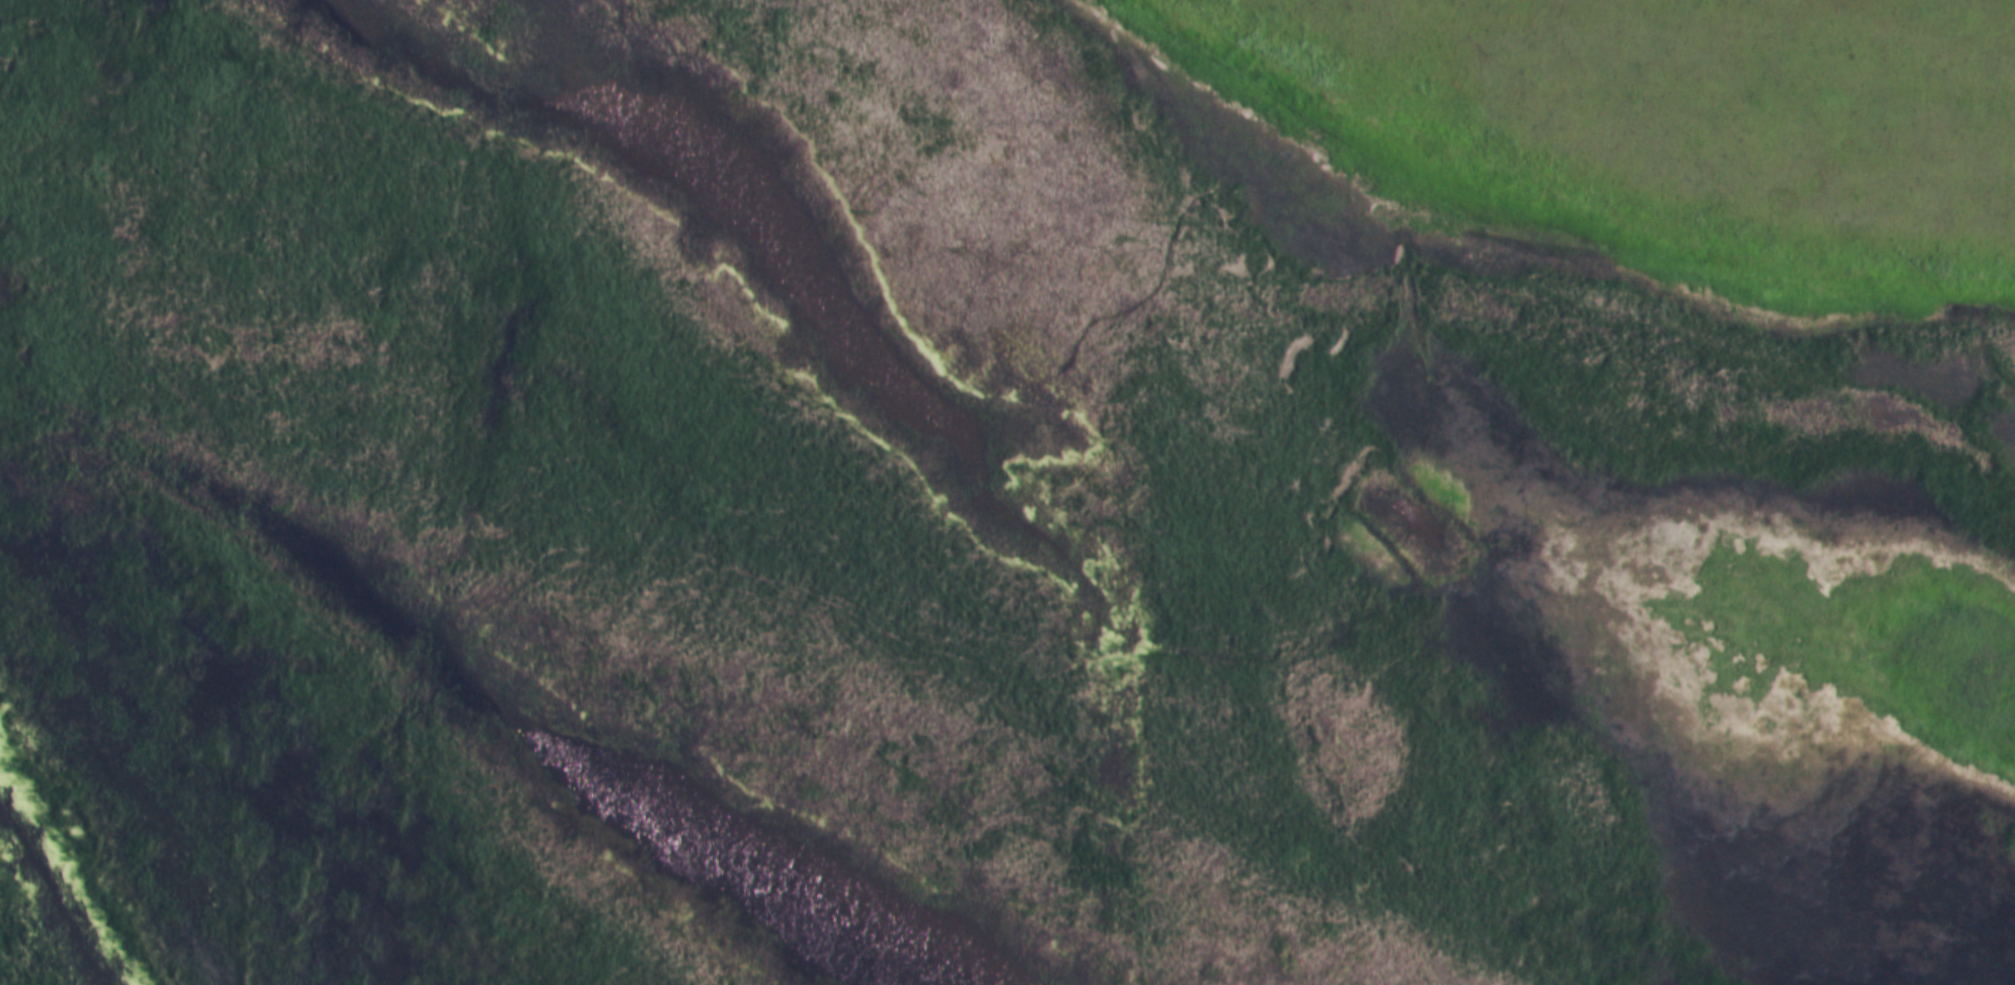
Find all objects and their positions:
river: (50, 918)

